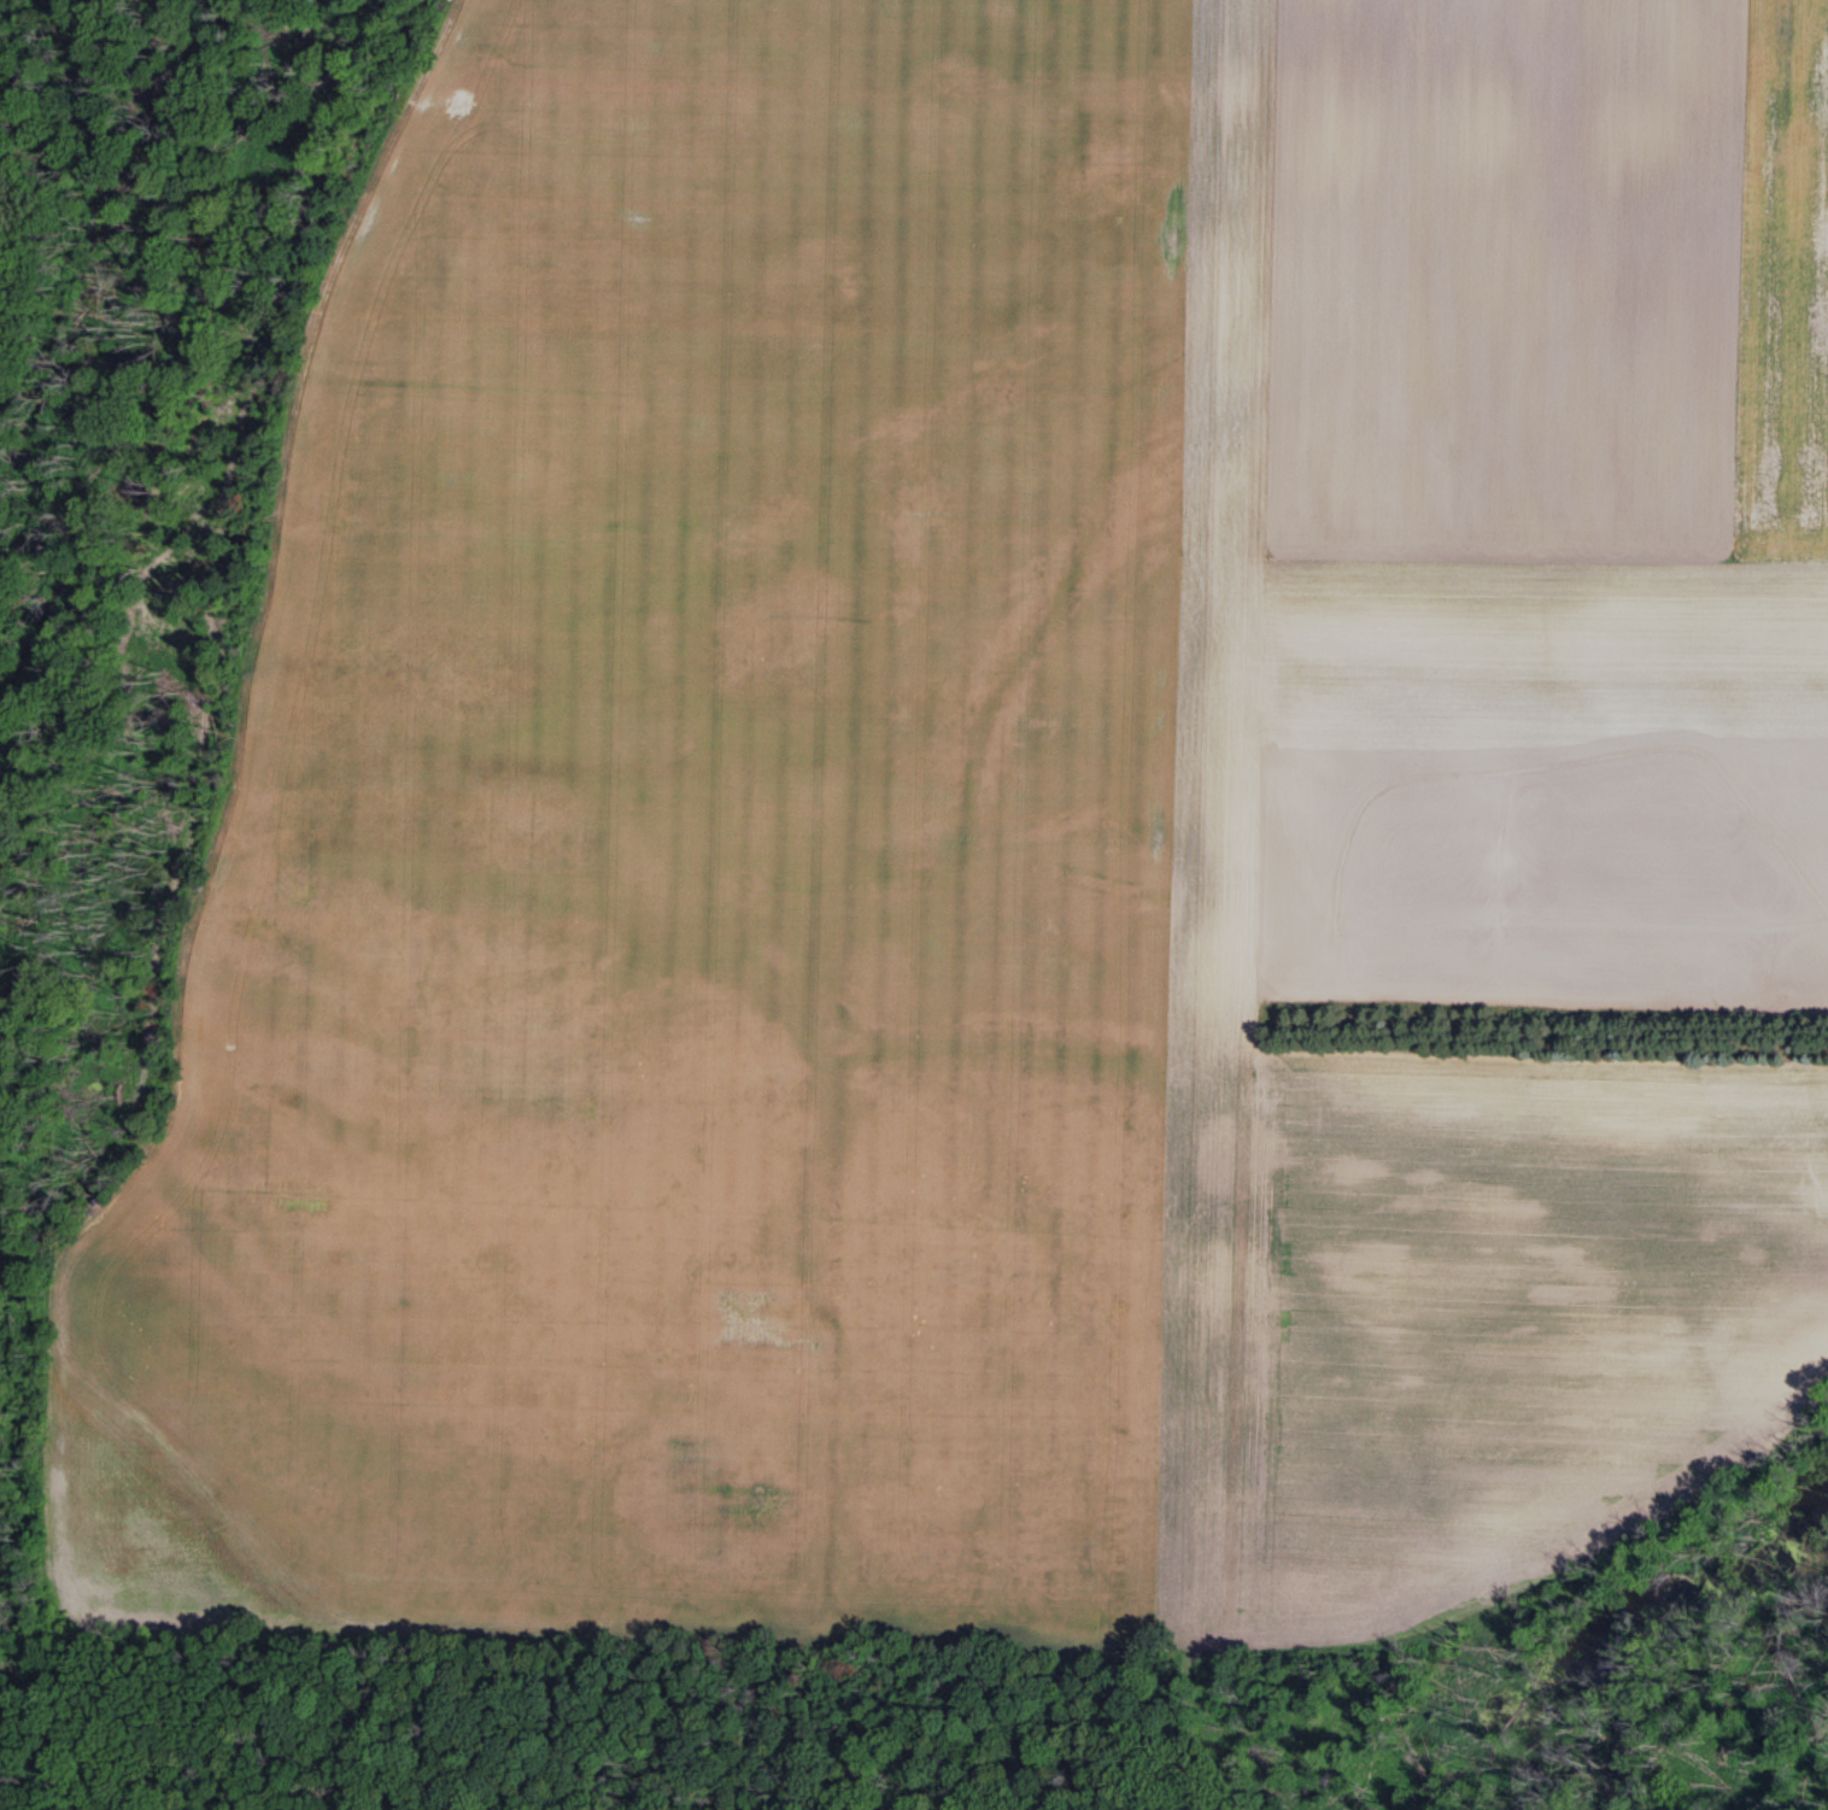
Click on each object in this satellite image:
river: (188, 327)
river: (1789, 1686)

